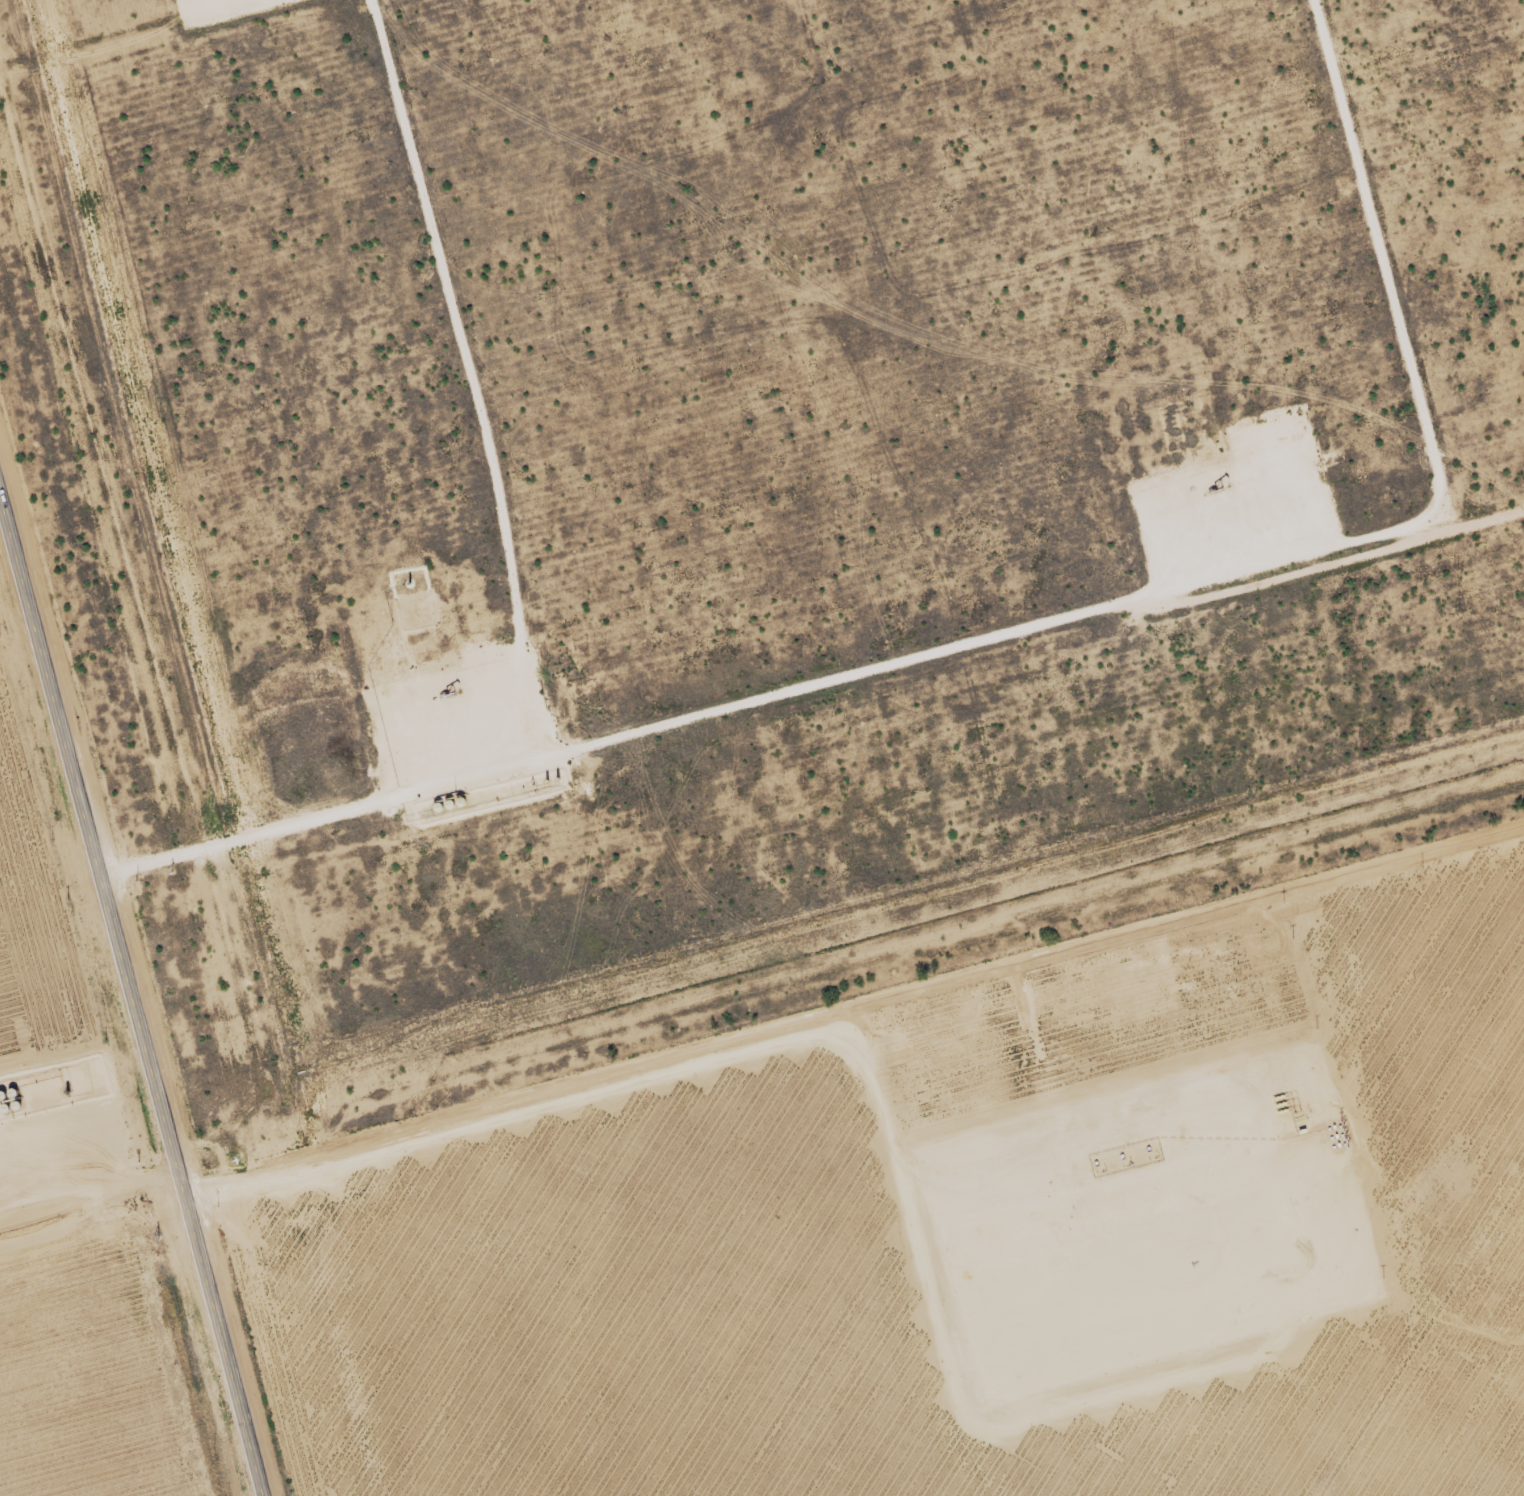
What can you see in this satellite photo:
road: (110, 42)
road: (471, 373)
road: (1027, 621)
road: (134, 987)

